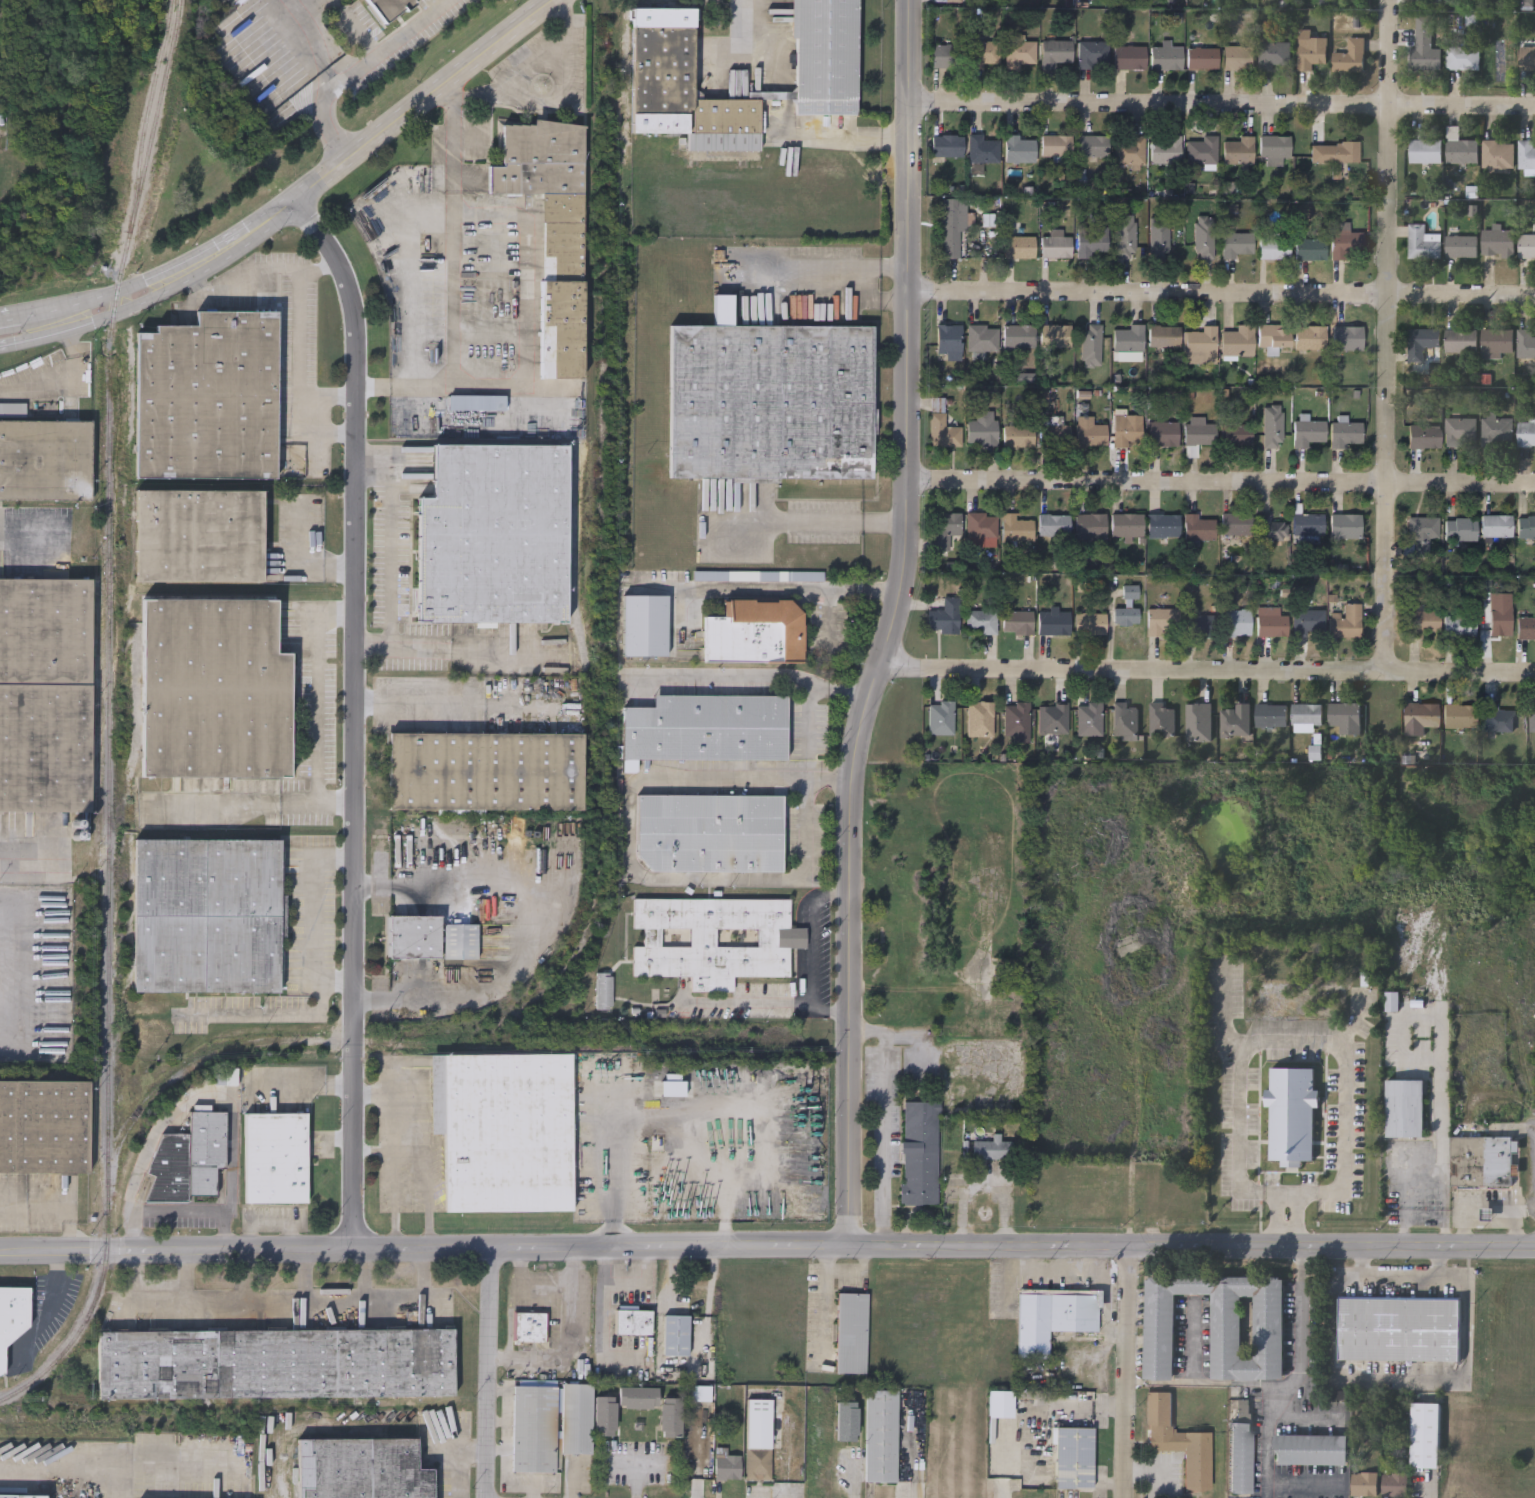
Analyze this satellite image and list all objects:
building: (947, 1)
building: (388, 8)
road: (744, 32)
road: (314, 42)
building: (1425, 46)
building: (1019, 52)
building: (1311, 52)
building: (984, 54)
building: (1055, 54)
building: (825, 55)
building: (1092, 55)
building: (1274, 56)
building: (947, 57)
building: (1463, 57)
building: (1349, 58)
building: (1129, 59)
building: (1165, 59)
building: (1201, 59)
building: (1238, 59)
building: (1527, 59)
road: (517, 63)
road: (358, 68)
building: (682, 87)
road: (1219, 103)
railway: (148, 115)
road: (847, 137)
road: (374, 138)
building: (944, 146)
building: (1056, 146)
building: (1093, 146)
road: (459, 148)
building: (1274, 148)
building: (982, 149)
building: (1460, 149)
building: (1020, 150)
building: (1165, 150)
building: (1129, 151)
building: (1201, 151)
building: (1238, 151)
building: (1425, 152)
building: (1333, 153)
building: (1526, 155)
building: (1497, 156)
building: (547, 184)
building: (950, 229)
building: (1158, 236)
building: (1124, 237)
building: (1203, 238)
building: (1091, 242)
building: (1422, 243)
building: (1497, 244)
building: (1237, 245)
building: (1345, 245)
building: (1055, 247)
building: (1526, 247)
building: (1018, 248)
building: (1461, 248)
building: (1273, 249)
building: (1309, 250)
road: (395, 254)
road: (530, 261)
road: (825, 266)
road: (184, 272)
road: (257, 278)
road: (1220, 294)
road: (99, 296)
road: (869, 297)
road: (9, 314)
road: (95, 323)
building: (561, 328)
building: (1018, 336)
building: (1054, 336)
building: (1163, 336)
road: (1388, 336)
building: (1273, 337)
building: (981, 338)
building: (1309, 338)
building: (1346, 338)
building: (948, 339)
building: (1127, 339)
building: (1202, 341)
building: (1237, 341)
building: (1461, 341)
building: (1497, 341)
building: (1421, 343)
road: (301, 344)
building: (1526, 344)
building: (1090, 346)
road: (58, 381)
road: (379, 386)
road: (465, 387)
building: (208, 397)
road: (333, 397)
building: (476, 402)
building: (770, 402)
building: (1271, 426)
building: (941, 428)
building: (982, 429)
building: (1126, 431)
building: (1198, 431)
road: (333, 432)
building: (1308, 432)
building: (1460, 432)
building: (1496, 432)
building: (1526, 432)
building: (1089, 433)
building: (1163, 434)
building: (1235, 435)
building: (1345, 435)
building: (1018, 436)
building: (1054, 436)
building: (1424, 438)
road: (319, 439)
building: (45, 460)
road: (1221, 488)
road: (810, 523)
building: (1235, 524)
building: (1308, 525)
road: (24, 526)
building: (981, 526)
building: (1053, 526)
building: (1126, 526)
building: (1162, 526)
building: (1089, 527)
building: (1344, 527)
building: (1496, 527)
building: (1526, 528)
building: (944, 529)
building: (1015, 529)
building: (1197, 531)
building: (1460, 531)
building: (1267, 533)
building: (1420, 533)
building: (494, 535)
building: (198, 536)
road: (296, 564)
building: (724, 575)
road: (793, 588)
railway: (109, 589)
building: (1124, 617)
building: (944, 618)
building: (1307, 621)
road: (890, 622)
building: (1344, 622)
building: (980, 623)
building: (1017, 623)
building: (1162, 623)
building: (1236, 623)
building: (1053, 624)
building: (1089, 624)
building: (1421, 624)
building: (1272, 626)
building: (1495, 626)
building: (1198, 627)
building: (1459, 627)
building: (1526, 629)
road: (390, 632)
building: (754, 633)
road: (374, 641)
road: (1205, 670)
road: (751, 676)
building: (213, 688)
building: (45, 695)
road: (439, 703)
road: (319, 708)
road: (358, 714)
building: (1306, 715)
road: (805, 716)
building: (1421, 716)
building: (1271, 717)
building: (1458, 717)
building: (940, 718)
building: (1345, 718)
building: (979, 719)
building: (1015, 719)
building: (1532, 719)
building: (1052, 720)
building: (1088, 720)
building: (1161, 720)
building: (1495, 720)
building: (1235, 721)
building: (1124, 722)
building: (1198, 723)
building: (706, 727)
building: (485, 771)
building: (710, 832)
road: (630, 852)
building: (206, 916)
road: (309, 916)
road: (534, 936)
building: (413, 937)
road: (812, 938)
building: (714, 940)
building: (603, 990)
road: (746, 1004)
road: (830, 1011)
road: (1294, 1042)
road: (1441, 1072)
road: (312, 1088)
road: (204, 1094)
building: (1405, 1108)
building: (1292, 1115)
road: (885, 1116)
road: (396, 1118)
building: (44, 1127)
building: (503, 1130)
building: (992, 1149)
building: (919, 1153)
building: (275, 1158)
building: (1407, 1158)
building: (190, 1162)
building: (1481, 1162)
road: (611, 1174)
road: (428, 1181)
road: (1269, 1192)
road: (1286, 1193)
road: (1306, 1193)
road: (1407, 1196)
road: (395, 1197)
road: (57, 1205)
road: (1468, 1206)
road: (179, 1211)
road: (1515, 1218)
road: (1276, 1219)
road: (1296, 1220)
road: (1517, 1238)
road: (990, 1242)
road: (425, 1245)
road: (1332, 1247)
road: (1302, 1263)
road: (1441, 1263)
road: (185, 1278)
road: (245, 1278)
road: (303, 1278)
road: (365, 1278)
road: (285, 1309)
railway: (90, 1312)
building: (12, 1313)
building: (1054, 1315)
building: (633, 1321)
building: (1219, 1325)
building: (530, 1326)
building: (1399, 1328)
building: (851, 1332)
building: (675, 1334)
road: (1194, 1342)
building: (275, 1362)
road: (488, 1370)
road: (1127, 1370)
road: (1455, 1380)
road: (1208, 1383)
road: (1286, 1389)
building: (638, 1398)
building: (1000, 1402)
building: (605, 1416)
building: (576, 1417)
building: (670, 1417)
building: (847, 1419)
building: (534, 1427)
building: (880, 1434)
building: (1426, 1434)
building: (758, 1438)
building: (1179, 1441)
road: (913, 1447)
building: (1311, 1450)
building: (1073, 1457)
building: (1240, 1459)
road: (636, 1465)
building: (726, 1465)
building: (361, 1468)
building: (1364, 1483)
building: (1395, 1484)
building: (1325, 1490)
building: (21, 1495)

